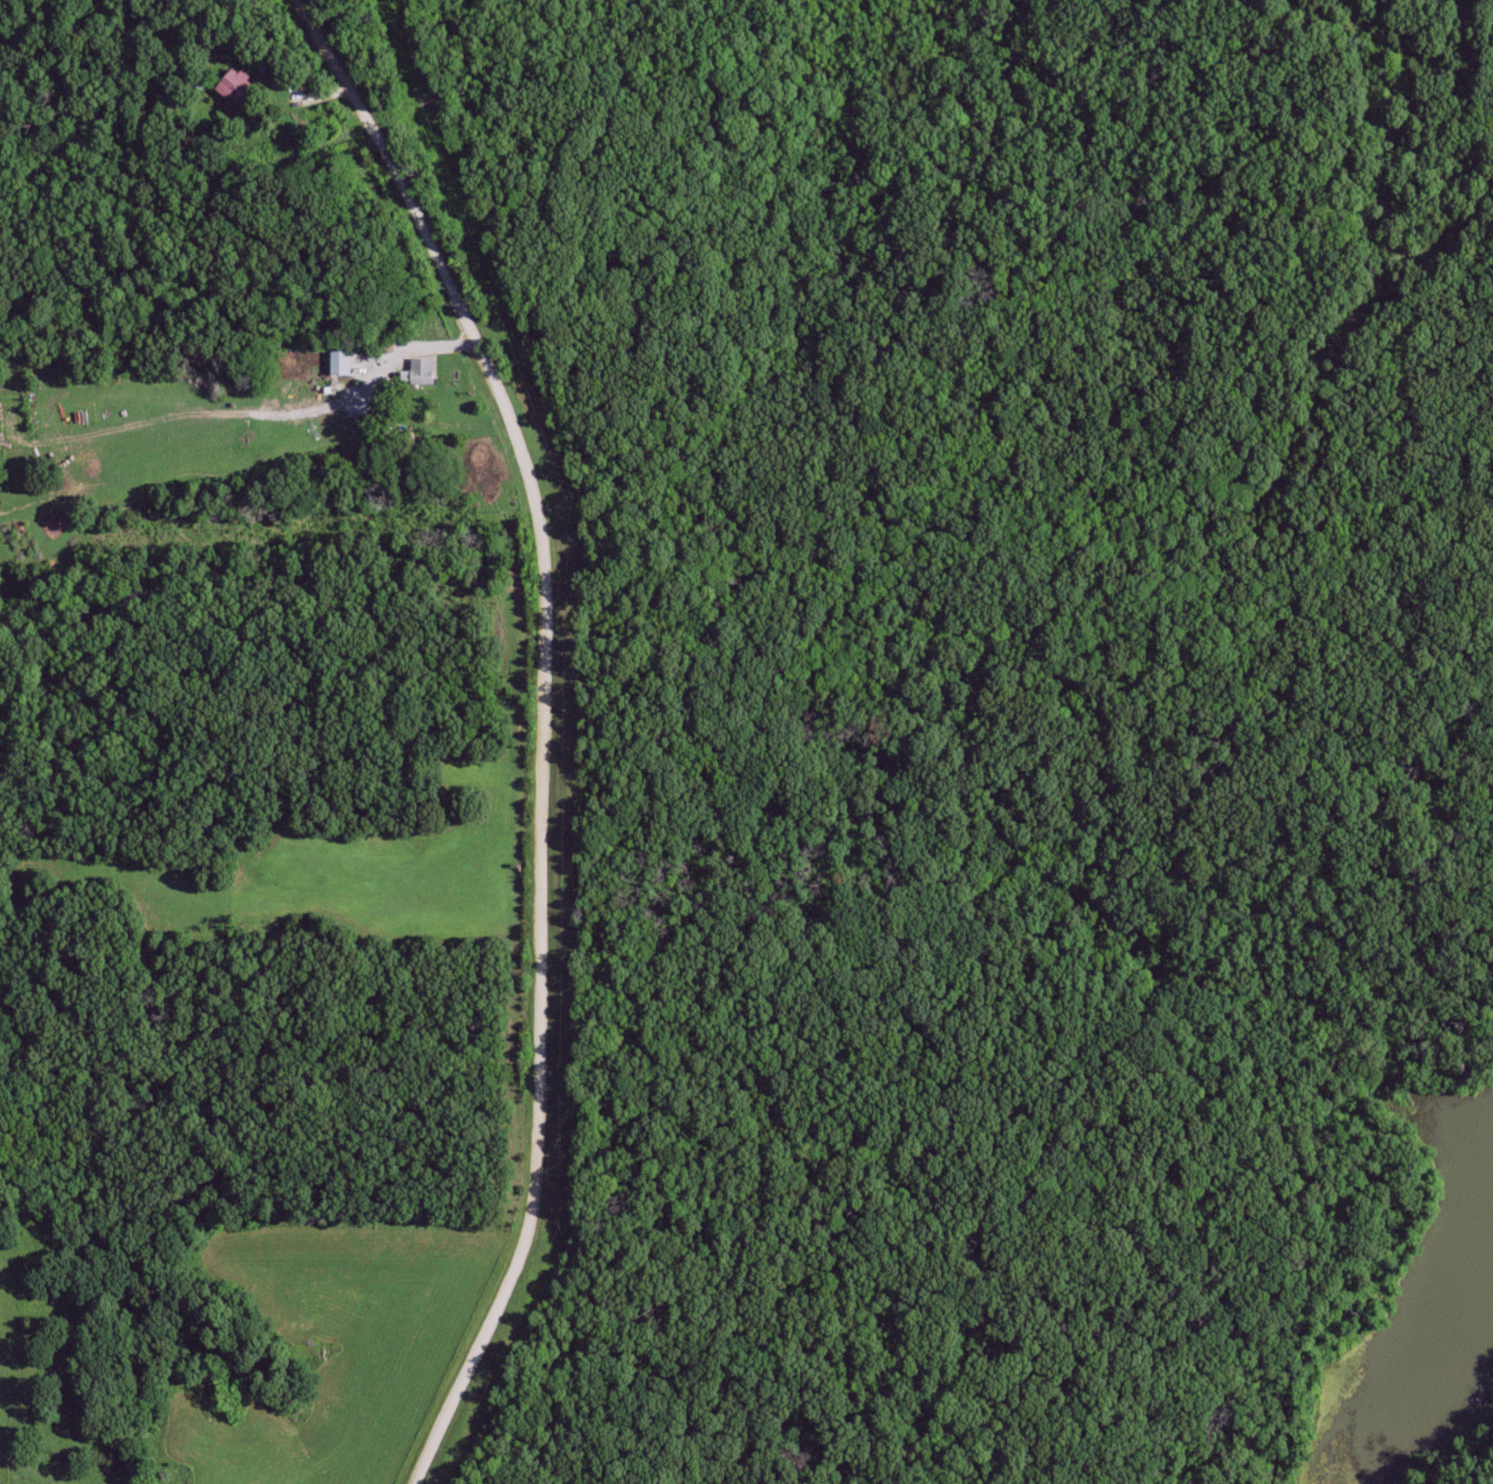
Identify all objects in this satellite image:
building: (238, 87)
building: (342, 363)
building: (423, 371)
road: (539, 725)
road: (1392, 1224)
road: (1475, 1464)

